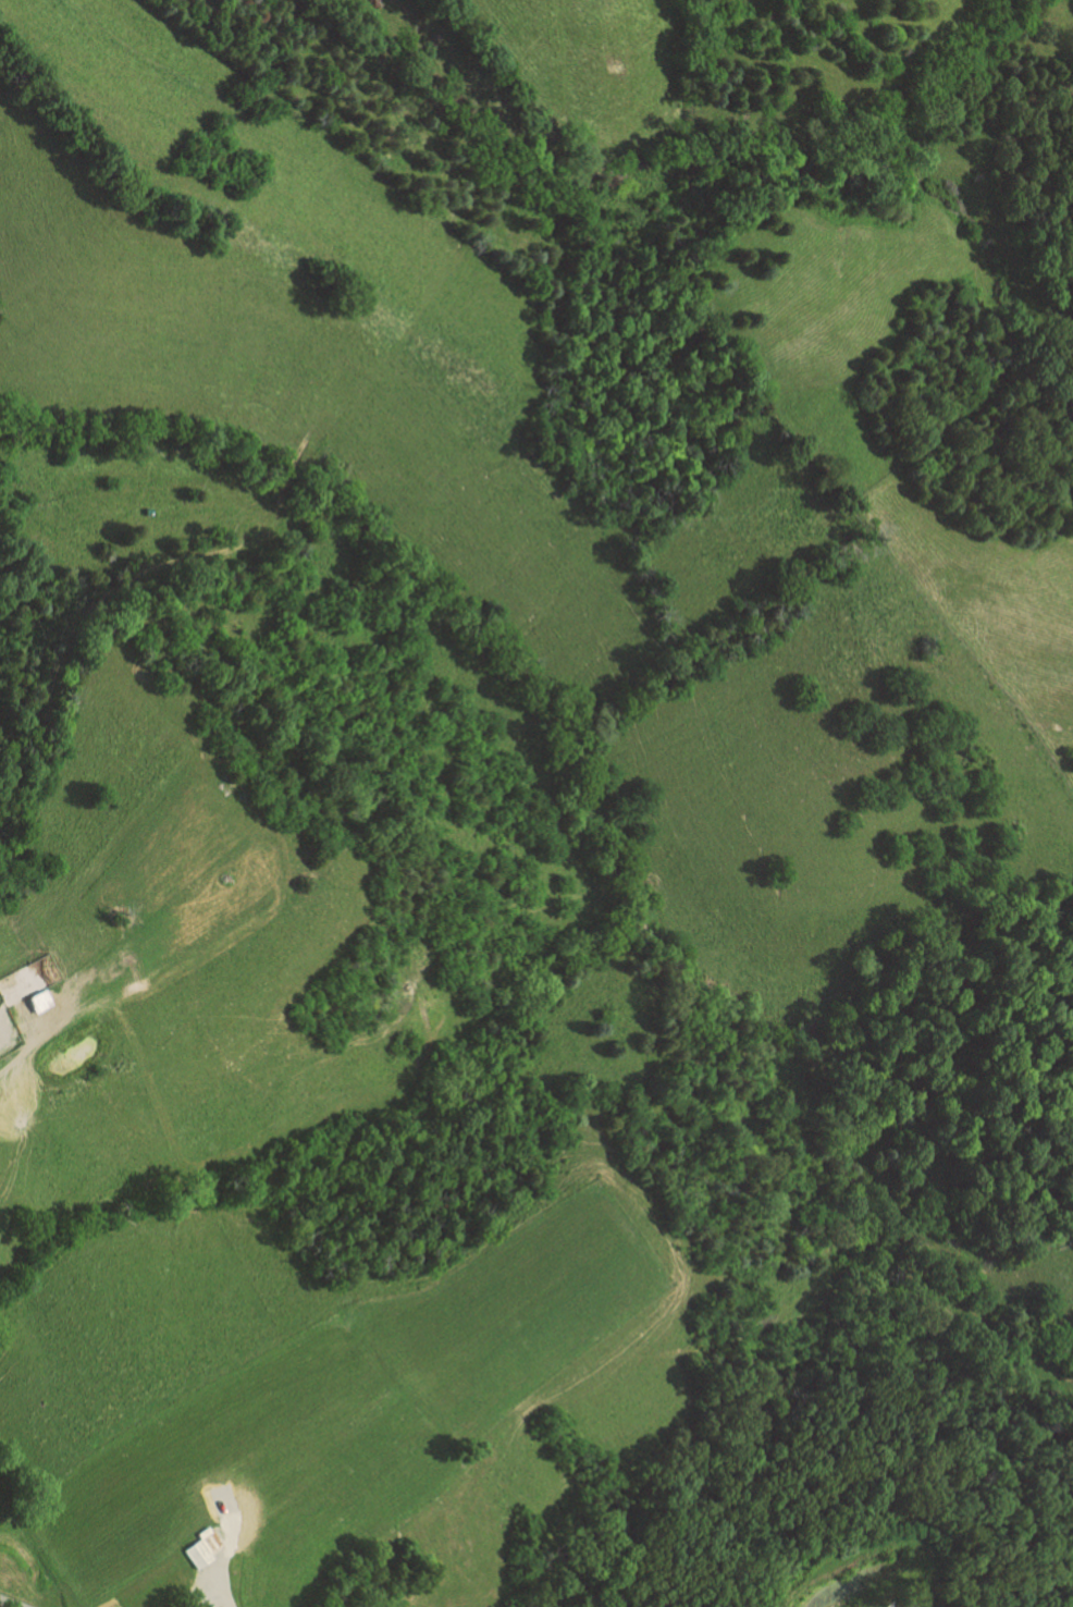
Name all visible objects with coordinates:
building: (36, 999)
building: (201, 1546)
road: (224, 1575)
road: (11, 1602)
building: (906, 1603)

